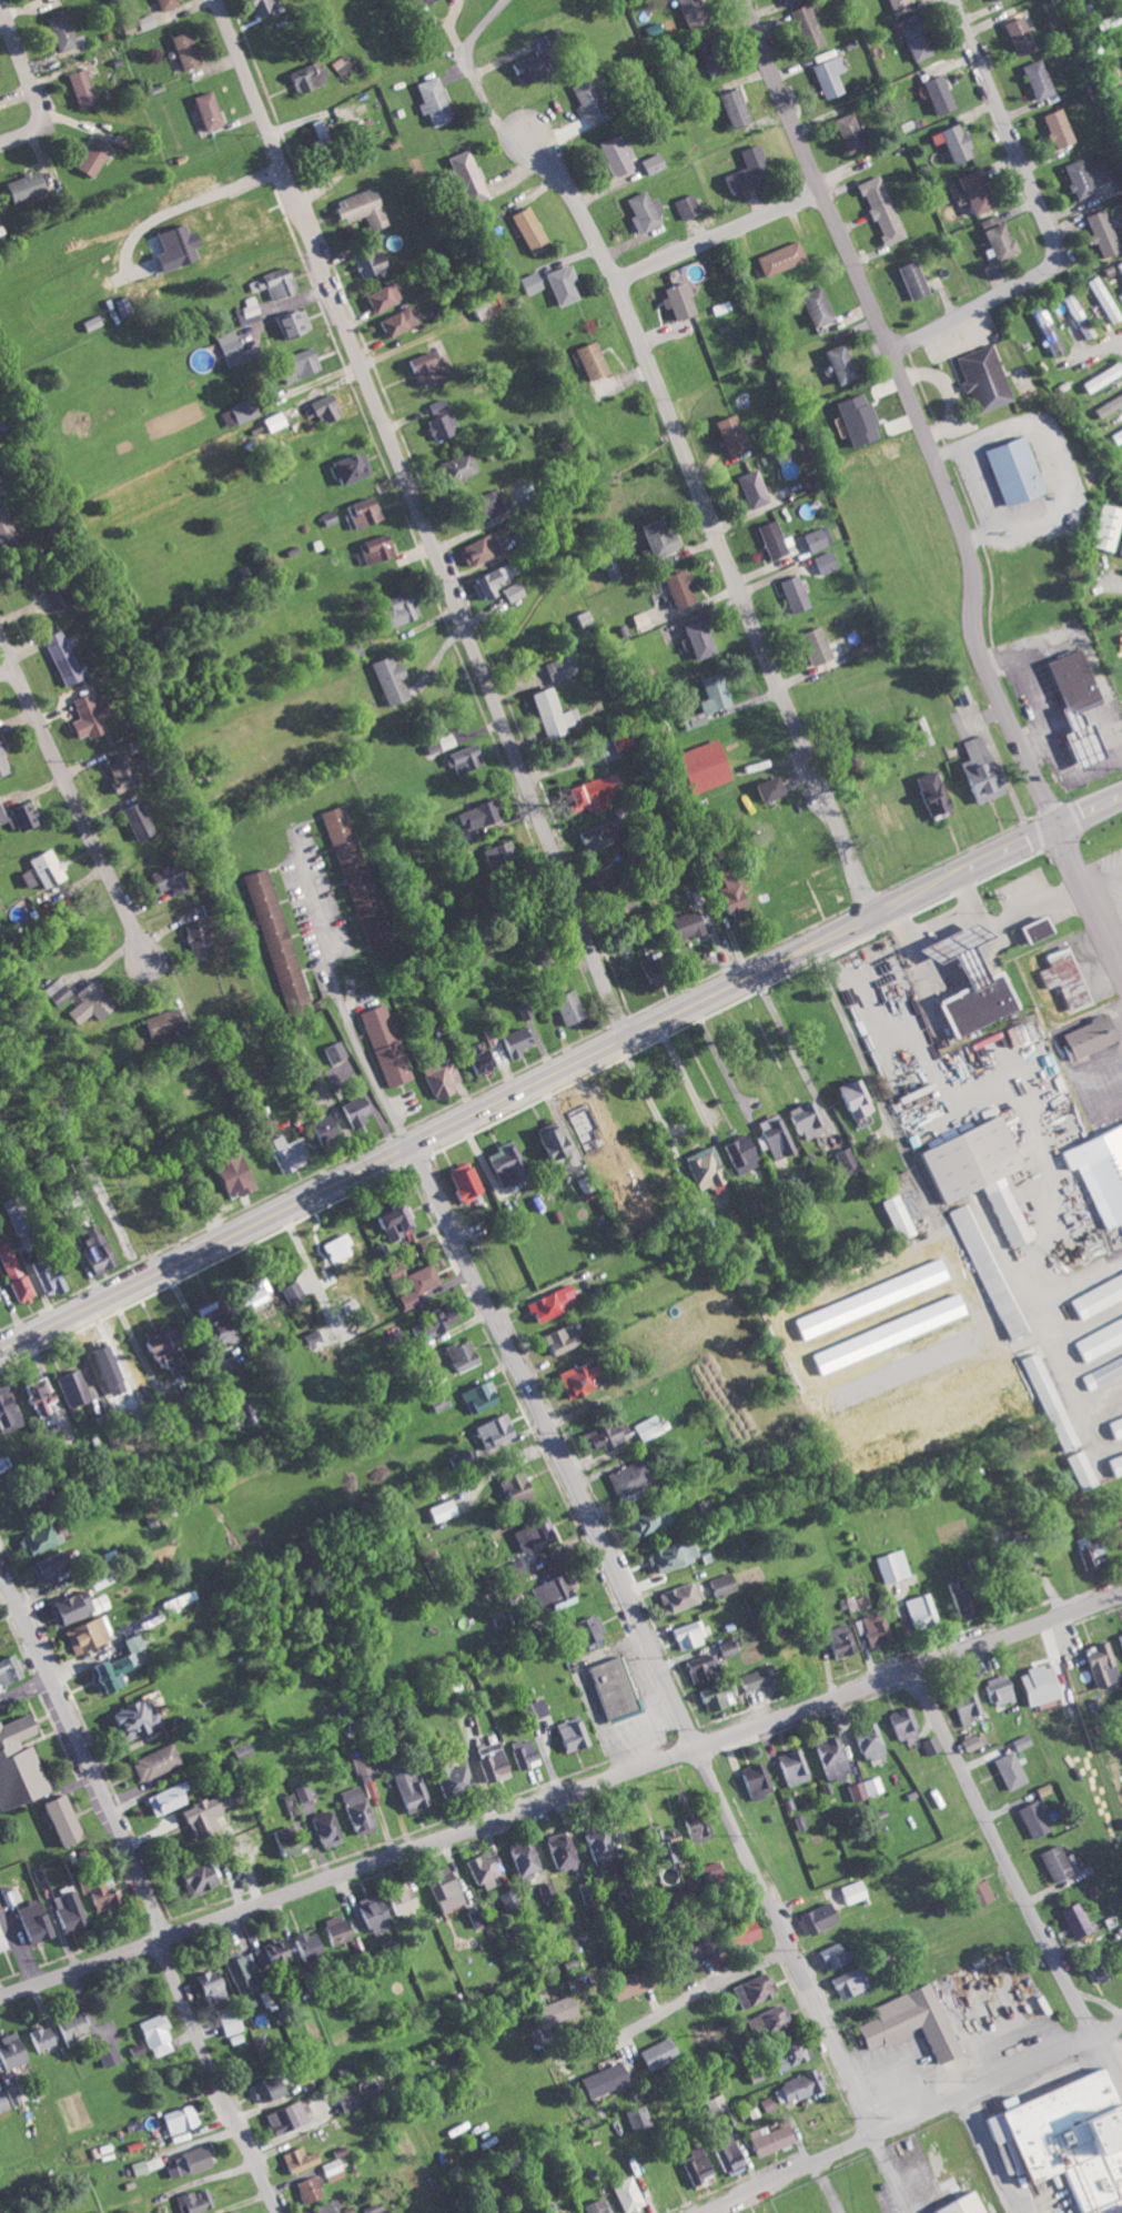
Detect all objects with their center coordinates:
building: (989, 0)
building: (414, 1)
building: (893, 2)
building: (169, 3)
building: (266, 7)
building: (687, 11)
building: (802, 26)
building: (64, 31)
building: (1014, 34)
building: (910, 40)
building: (189, 50)
building: (707, 65)
building: (522, 69)
building: (826, 75)
building: (303, 77)
building: (1033, 79)
road: (30, 81)
building: (85, 89)
building: (0, 93)
building: (934, 93)
building: (429, 100)
building: (585, 101)
building: (729, 107)
building: (204, 109)
building: (1054, 127)
building: (843, 132)
building: (951, 142)
road: (803, 150)
building: (613, 154)
building: (90, 156)
building: (650, 162)
building: (740, 168)
building: (1099, 172)
building: (464, 175)
building: (1075, 179)
building: (29, 184)
building: (971, 191)
building: (684, 204)
building: (356, 208)
building: (878, 208)
building: (640, 211)
building: (243, 214)
road: (1044, 216)
building: (525, 229)
building: (1099, 232)
building: (0, 233)
road: (719, 236)
building: (993, 236)
building: (776, 257)
building: (367, 260)
building: (1119, 267)
building: (908, 279)
building: (273, 282)
building: (527, 282)
building: (559, 283)
building: (1121, 289)
building: (380, 296)
building: (1100, 299)
building: (674, 300)
building: (485, 305)
building: (810, 305)
building: (249, 306)
building: (718, 307)
building: (1075, 314)
building: (394, 321)
building: (289, 322)
road: (877, 326)
building: (1044, 330)
building: (226, 347)
building: (587, 360)
building: (836, 363)
building: (295, 365)
building: (420, 368)
building: (979, 377)
building: (1098, 377)
building: (320, 408)
building: (234, 413)
building: (437, 418)
building: (852, 418)
building: (6, 422)
building: (724, 433)
building: (1115, 435)
building: (1121, 459)
building: (455, 466)
building: (346, 467)
building: (1009, 469)
building: (1, 476)
building: (3, 488)
building: (748, 488)
building: (482, 504)
building: (361, 511)
road: (710, 511)
road: (418, 519)
building: (7, 525)
building: (1104, 527)
building: (654, 537)
building: (768, 538)
building: (811, 539)
building: (372, 548)
building: (476, 549)
building: (1120, 549)
building: (821, 563)
building: (608, 569)
building: (489, 578)
building: (675, 587)
road: (972, 589)
building: (513, 590)
building: (790, 593)
building: (62, 596)
building: (395, 608)
building: (583, 617)
road: (1079, 636)
building: (694, 638)
building: (812, 645)
building: (68, 658)
building: (557, 667)
road: (7, 670)
building: (386, 678)
building: (709, 693)
building: (961, 694)
building: (1068, 701)
building: (548, 713)
building: (93, 716)
building: (690, 720)
road: (1032, 738)
road: (1050, 744)
building: (4, 759)
building: (458, 759)
building: (700, 767)
building: (973, 771)
building: (125, 774)
building: (761, 788)
building: (593, 792)
building: (927, 792)
building: (568, 798)
road: (77, 808)
building: (2, 809)
road: (1088, 810)
building: (475, 814)
building: (26, 817)
building: (142, 819)
building: (588, 838)
building: (495, 852)
building: (52, 868)
building: (599, 870)
building: (358, 877)
building: (31, 878)
building: (174, 878)
building: (728, 897)
road: (964, 897)
road: (1065, 901)
road: (1086, 901)
building: (620, 905)
road: (978, 918)
building: (683, 924)
building: (1030, 929)
building: (277, 934)
building: (202, 939)
building: (953, 950)
building: (1059, 978)
building: (60, 990)
building: (93, 1003)
building: (971, 1006)
building: (563, 1007)
road: (345, 1010)
building: (168, 1022)
building: (1008, 1037)
building: (1082, 1037)
building: (513, 1040)
building: (387, 1045)
building: (336, 1051)
building: (475, 1059)
building: (445, 1081)
road: (526, 1087)
building: (849, 1098)
building: (358, 1111)
building: (803, 1120)
building: (330, 1122)
building: (771, 1136)
building: (547, 1141)
building: (293, 1152)
building: (737, 1154)
building: (842, 1159)
building: (511, 1163)
building: (701, 1168)
building: (1098, 1171)
building: (972, 1172)
building: (241, 1176)
building: (467, 1182)
building: (19, 1216)
building: (893, 1216)
building: (400, 1222)
building: (342, 1247)
building: (100, 1251)
building: (16, 1271)
building: (400, 1271)
building: (983, 1271)
building: (51, 1275)
building: (423, 1284)
building: (294, 1292)
building: (1094, 1295)
building: (0, 1299)
building: (555, 1303)
building: (447, 1318)
building: (565, 1338)
building: (1096, 1338)
building: (171, 1344)
building: (779, 1350)
building: (465, 1355)
building: (1101, 1373)
building: (584, 1378)
building: (77, 1390)
building: (482, 1396)
building: (43, 1397)
building: (1043, 1398)
building: (9, 1408)
building: (1113, 1426)
building: (641, 1427)
building: (497, 1431)
building: (596, 1436)
building: (463, 1456)
building: (6, 1463)
building: (1113, 1465)
building: (1078, 1469)
building: (624, 1476)
building: (519, 1486)
building: (446, 1509)
building: (645, 1518)
building: (529, 1534)
building: (1118, 1536)
building: (42, 1540)
building: (1084, 1549)
building: (666, 1555)
building: (53, 1565)
building: (887, 1565)
building: (1021, 1575)
building: (717, 1584)
building: (548, 1591)
building: (675, 1595)
building: (953, 1598)
building: (78, 1606)
building: (914, 1607)
building: (0, 1610)
building: (583, 1627)
building: (869, 1629)
building: (90, 1635)
building: (684, 1635)
road: (647, 1637)
building: (837, 1640)
building: (1119, 1640)
building: (722, 1648)
building: (787, 1654)
building: (1096, 1664)
building: (119, 1668)
building: (694, 1668)
building: (9, 1673)
building: (750, 1678)
building: (1033, 1685)
road: (27, 1687)
building: (609, 1689)
building: (995, 1689)
building: (714, 1697)
building: (962, 1705)
building: (527, 1709)
building: (142, 1718)
building: (899, 1725)
building: (567, 1734)
building: (863, 1739)
building: (970, 1740)
building: (1019, 1741)
building: (927, 1744)
road: (87, 1745)
building: (518, 1752)
building: (828, 1757)
building: (158, 1761)
building: (487, 1761)
building: (21, 1764)
building: (790, 1766)
building: (1005, 1769)
building: (448, 1776)
building: (751, 1779)
building: (869, 1785)
building: (405, 1787)
building: (852, 1790)
road: (560, 1791)
building: (171, 1798)
building: (353, 1809)
building: (213, 1811)
building: (1030, 1818)
building: (67, 1820)
building: (321, 1828)
building: (695, 1829)
building: (283, 1839)
building: (658, 1841)
building: (596, 1848)
building: (558, 1852)
building: (519, 1858)
building: (1051, 1862)
road: (1012, 1868)
building: (479, 1869)
building: (203, 1877)
building: (439, 1888)
building: (102, 1889)
building: (974, 1890)
building: (850, 1891)
building: (13, 1897)
building: (397, 1899)
building: (73, 1910)
building: (370, 1913)
building: (815, 1917)
building: (1072, 1919)
building: (39, 1921)
building: (331, 1929)
building: (737, 1930)
building: (3, 1940)
building: (307, 1947)
building: (685, 1951)
building: (276, 1954)
building: (827, 1956)
building: (239, 1969)
building: (846, 1982)
building: (627, 1983)
building: (214, 1985)
building: (750, 1989)
road: (677, 2003)
building: (542, 2012)
building: (762, 2020)
building: (231, 2021)
building: (906, 2022)
building: (77, 2027)
building: (159, 2034)
building: (46, 2038)
building: (14, 2051)
building: (654, 2052)
building: (785, 2053)
road: (218, 2074)
building: (599, 2080)
road: (999, 2080)
building: (798, 2084)
building: (273, 2089)
building: (13, 2096)
building: (352, 2099)
building: (714, 2104)
building: (290, 2118)
building: (636, 2118)
building: (183, 2119)
building: (1065, 2138)
building: (767, 2139)
building: (722, 2148)
building: (303, 2159)
building: (198, 2160)
building: (694, 2165)
building: (141, 2166)
building: (334, 2170)
road: (791, 2172)
road: (892, 2173)
road: (827, 2187)
building: (313, 2189)
building: (624, 2194)
building: (199, 2200)
railway: (1029, 2203)
building: (956, 2204)
building: (331, 2206)
building: (593, 2206)
building: (97, 2211)
building: (239, 2211)
building: (570, 2212)

